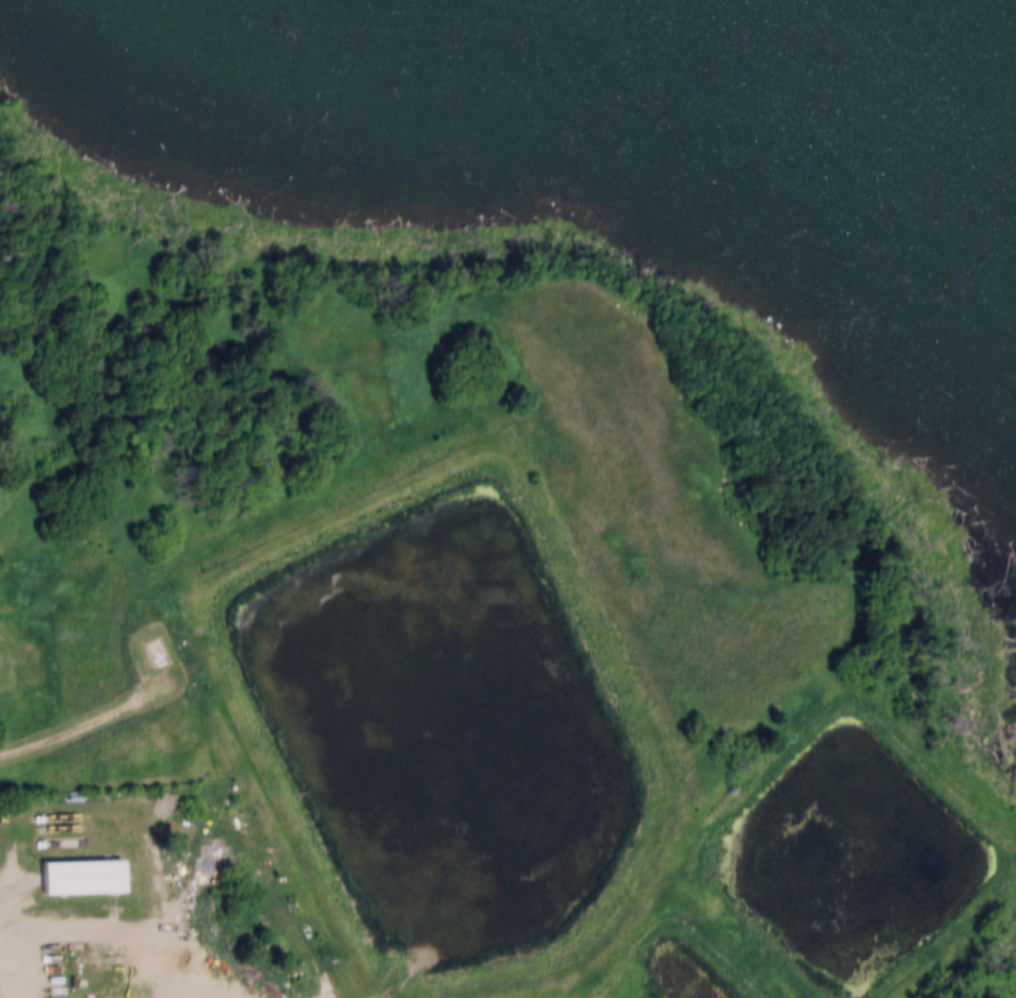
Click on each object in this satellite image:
road: (91, 722)
building: (73, 868)
road: (136, 925)

